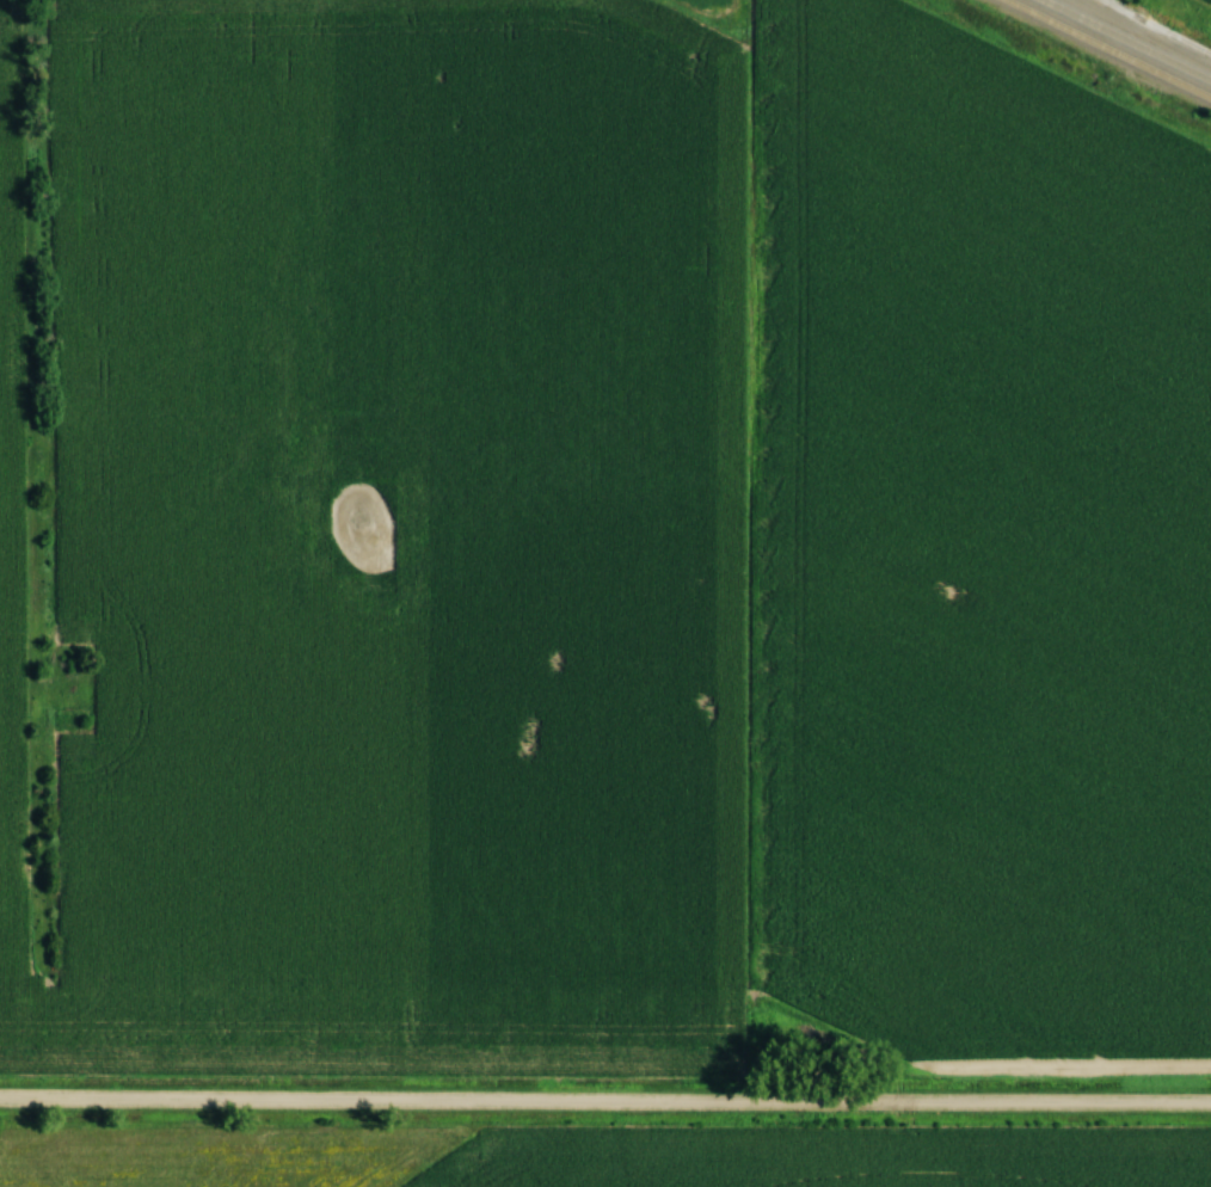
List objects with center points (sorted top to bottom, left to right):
crop: (700, 5)
railway: (1157, 29)
railway: (1127, 39)
railway: (1107, 49)
crop: (983, 551)
road: (605, 1102)

